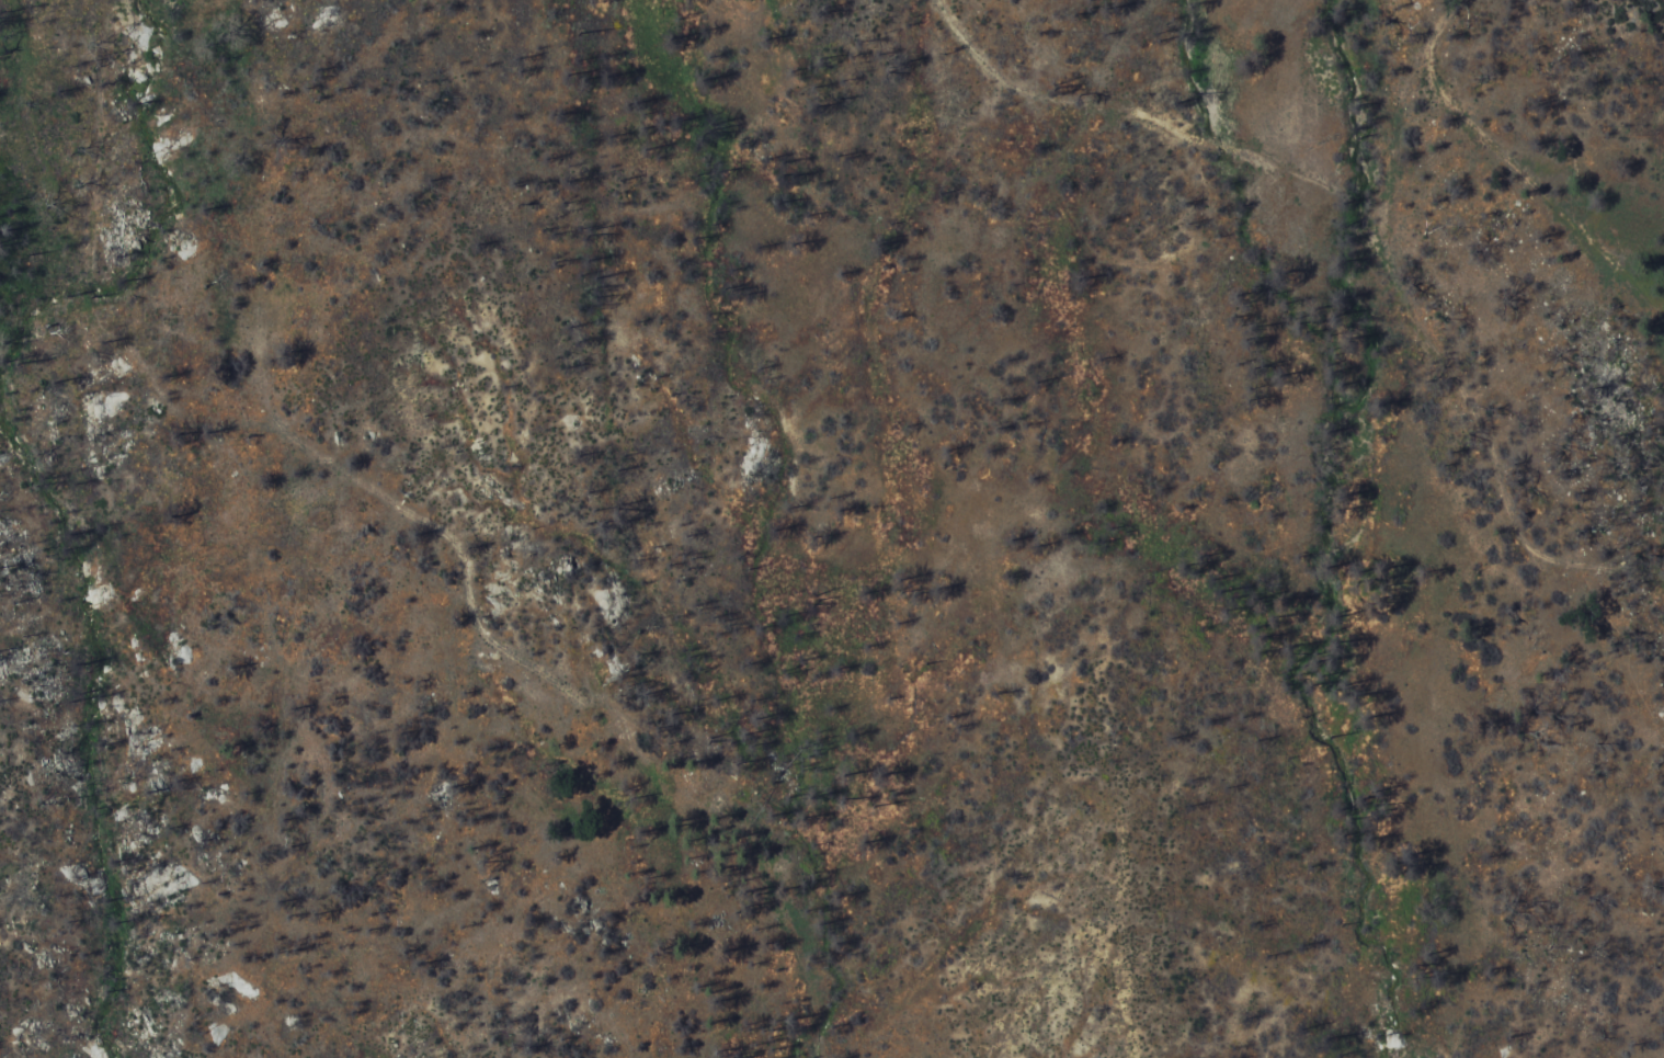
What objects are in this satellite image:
road: (1434, 42)
road: (1552, 213)
road: (1361, 215)
road: (354, 533)

